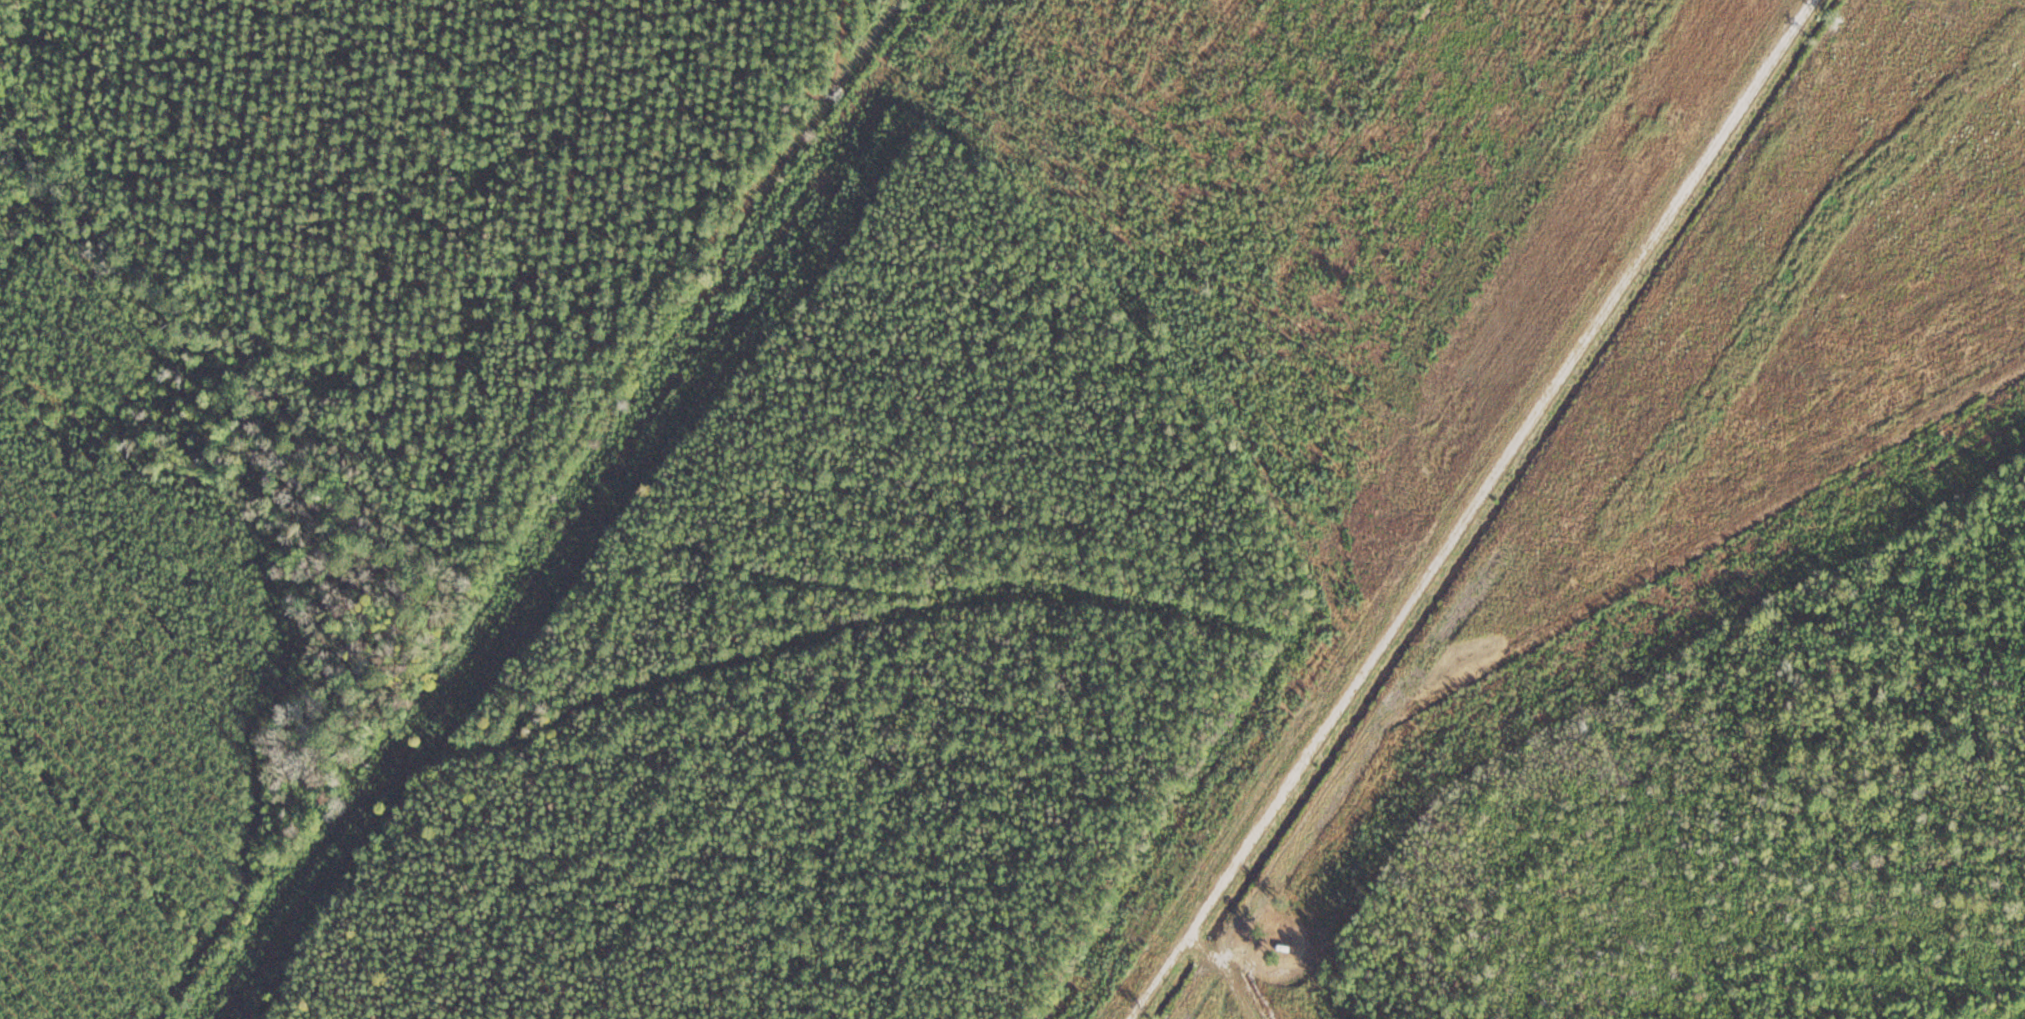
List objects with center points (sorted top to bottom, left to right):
road: (1492, 508)

